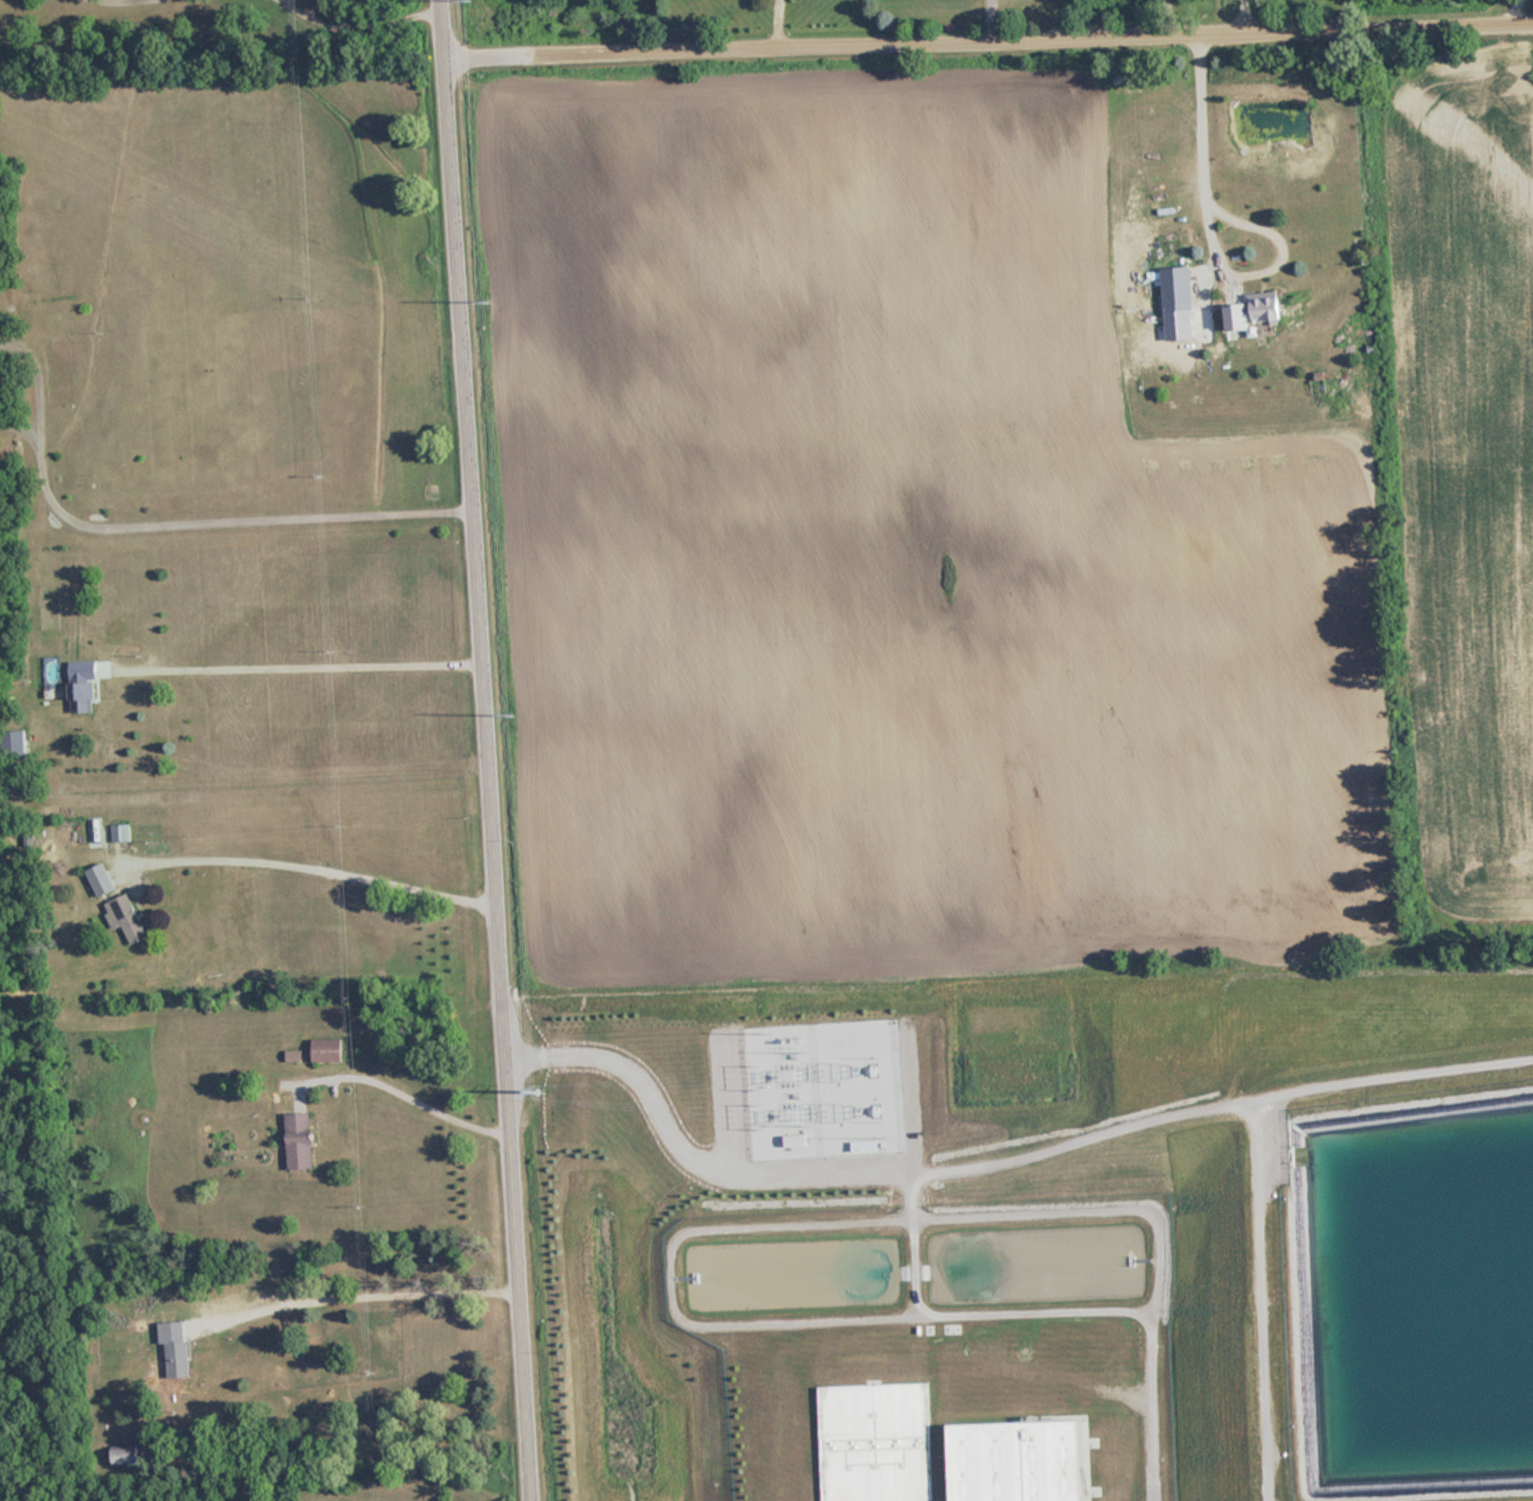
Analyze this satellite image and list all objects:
road: (1513, 5)
road: (1245, 11)
road: (1163, 13)
road: (989, 32)
road: (1205, 147)
building: (1177, 288)
building: (1253, 309)
road: (228, 516)
road: (288, 662)
building: (82, 696)
road: (491, 750)
building: (120, 833)
road: (312, 866)
building: (123, 916)
building: (326, 1047)
power substation: (821, 1087)
road: (405, 1093)
building: (178, 1109)
building: (298, 1141)
wastewater plant: (1047, 1233)
road: (354, 1289)
building: (173, 1341)
building: (869, 1438)
power substation: (1021, 1452)
building: (124, 1457)

